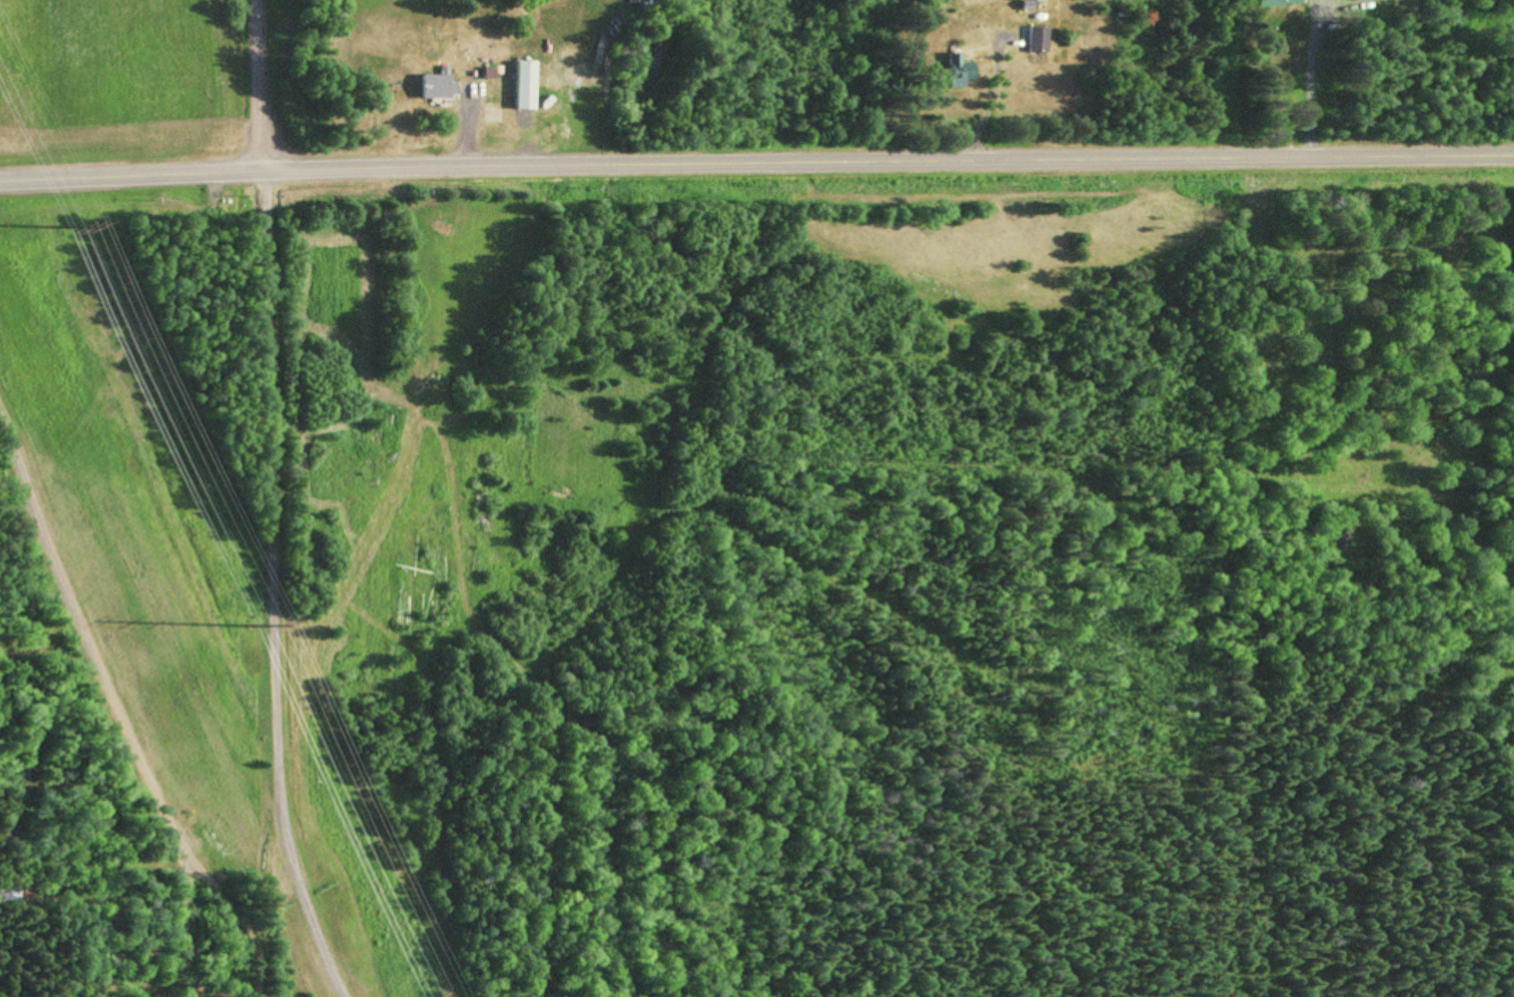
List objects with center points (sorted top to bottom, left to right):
building: (1271, 4)
building: (1035, 41)
building: (954, 72)
road: (260, 84)
building: (525, 86)
building: (439, 87)
road: (756, 163)
power tower: (62, 229)
power tower: (247, 626)

